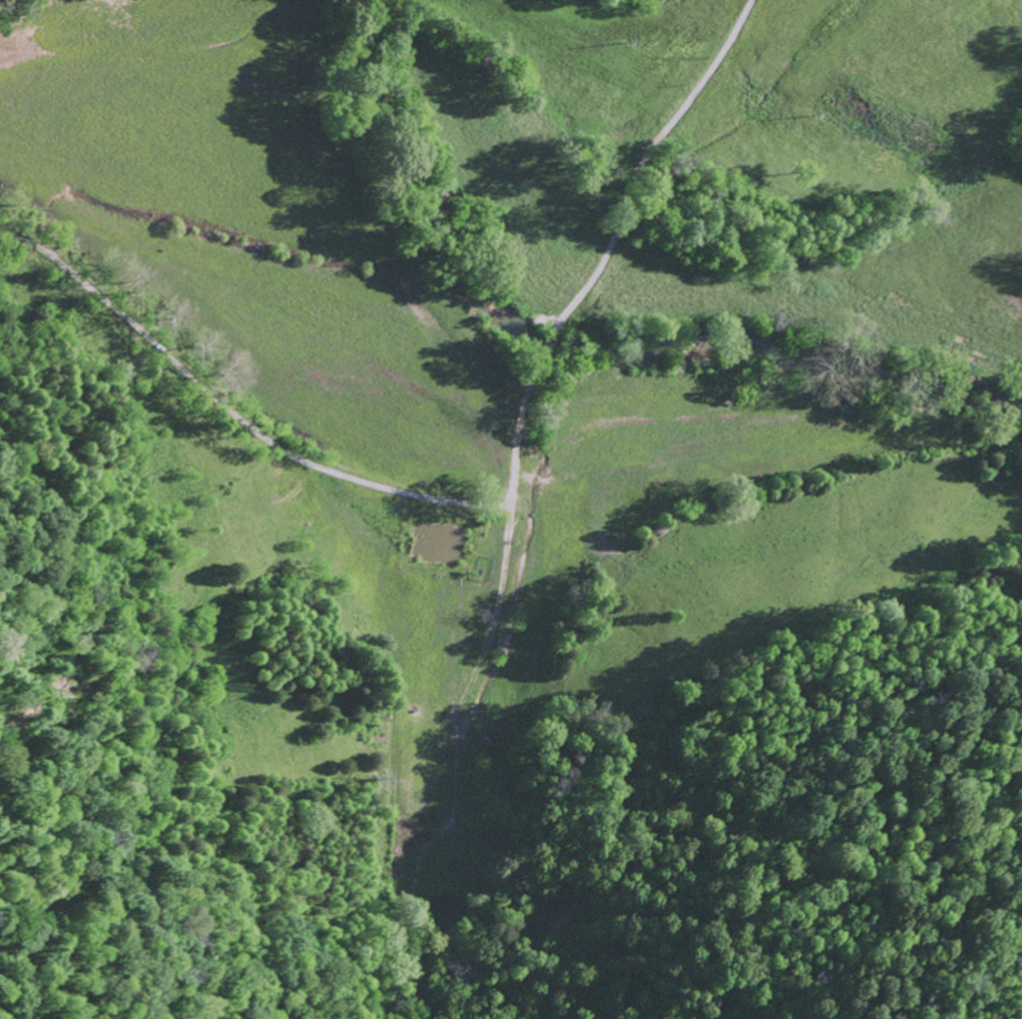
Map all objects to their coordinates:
road: (648, 159)
road: (490, 347)
road: (496, 557)

